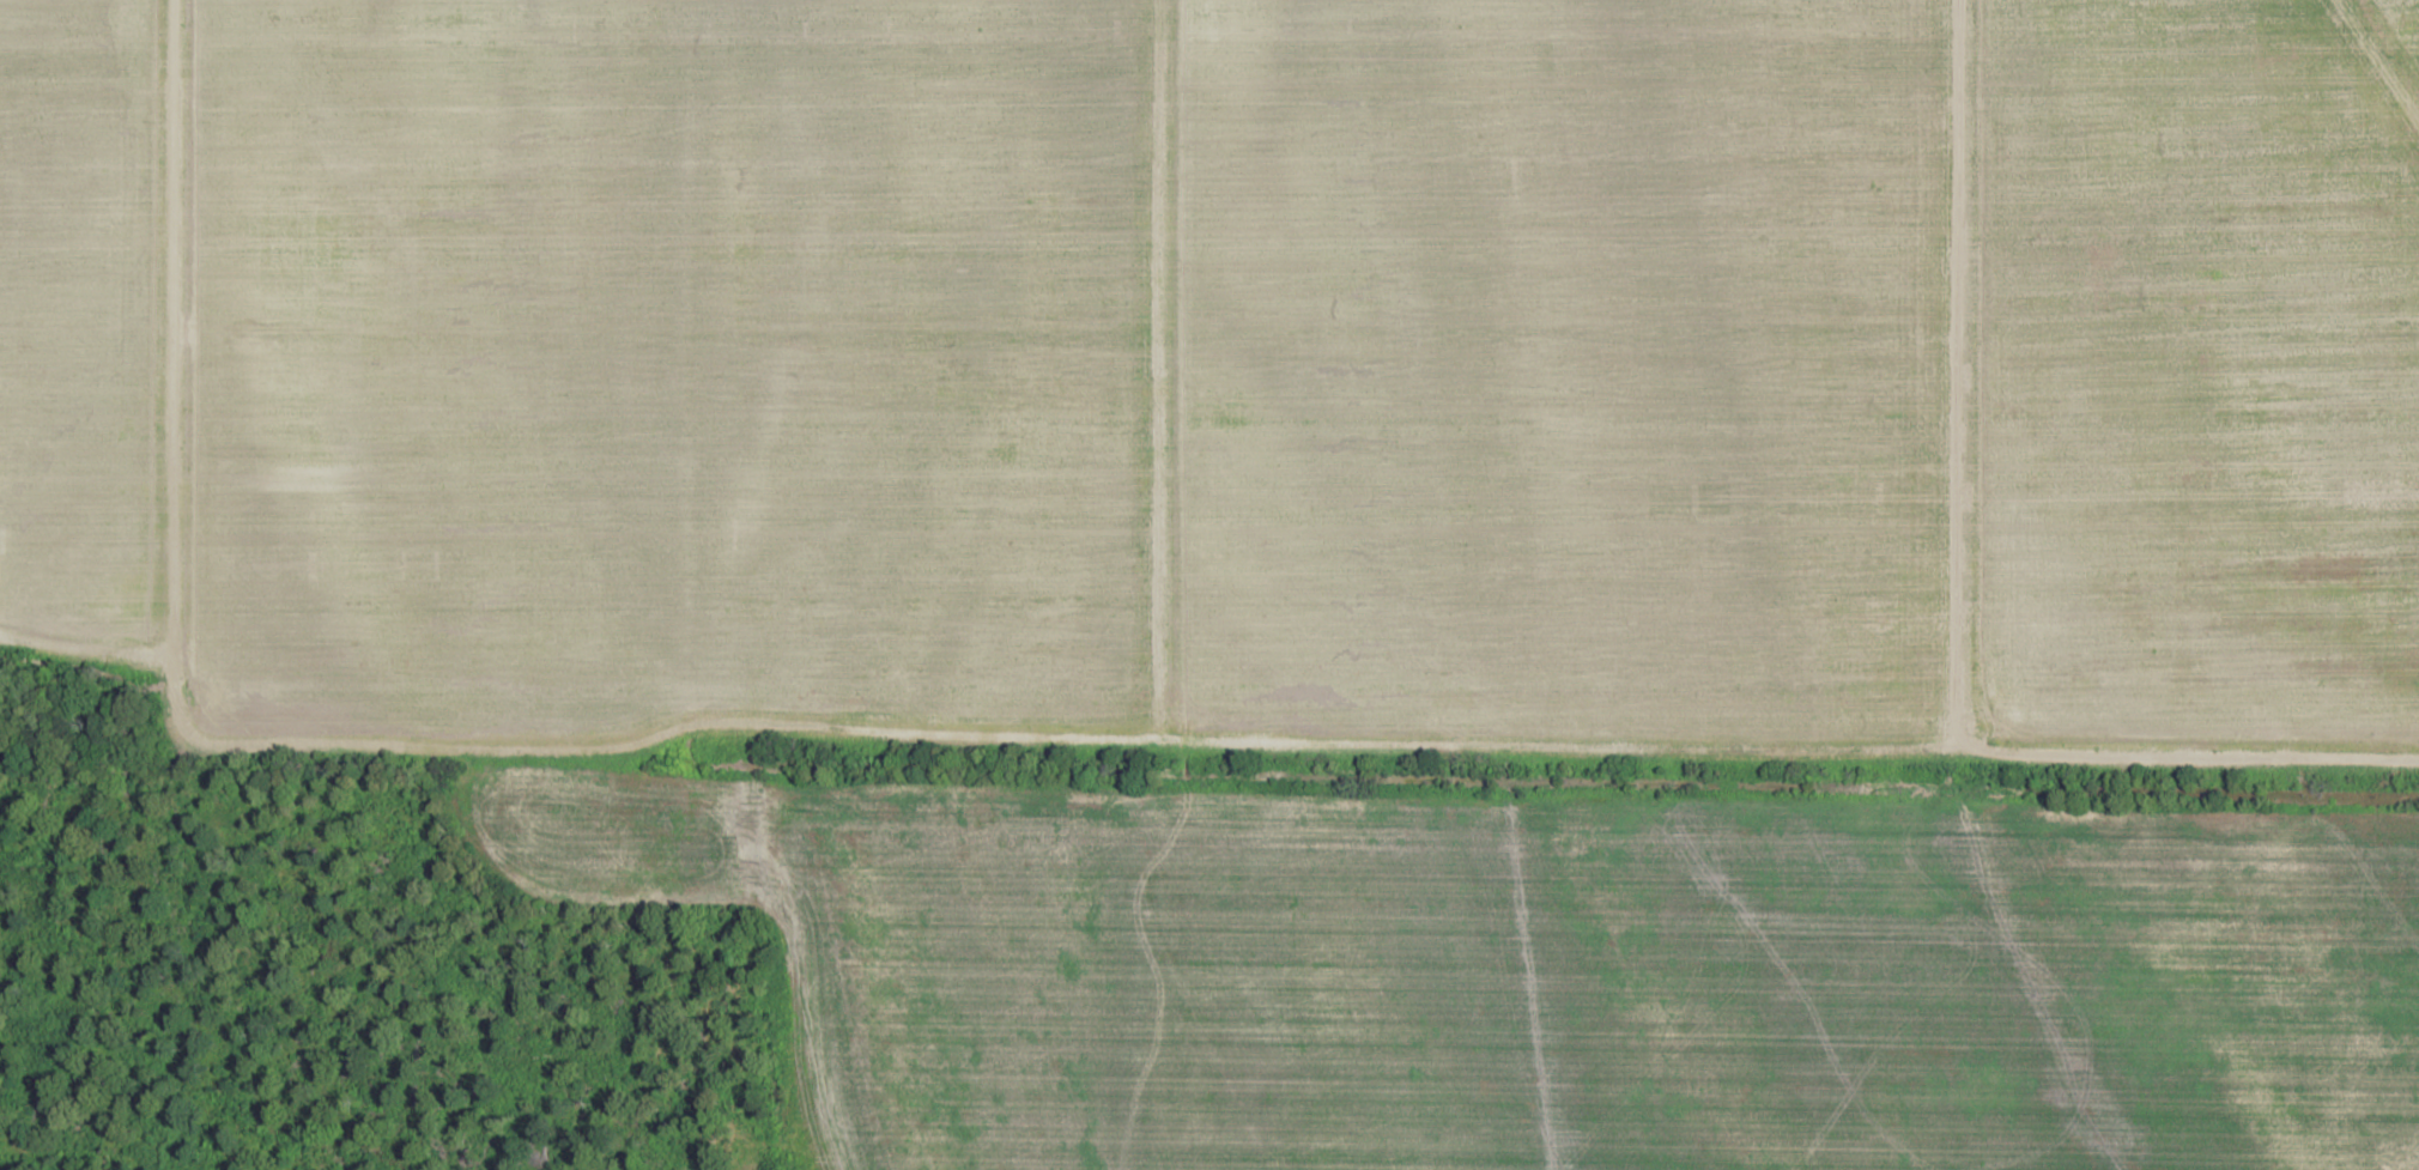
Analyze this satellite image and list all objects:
road: (672, 728)
road: (796, 946)

